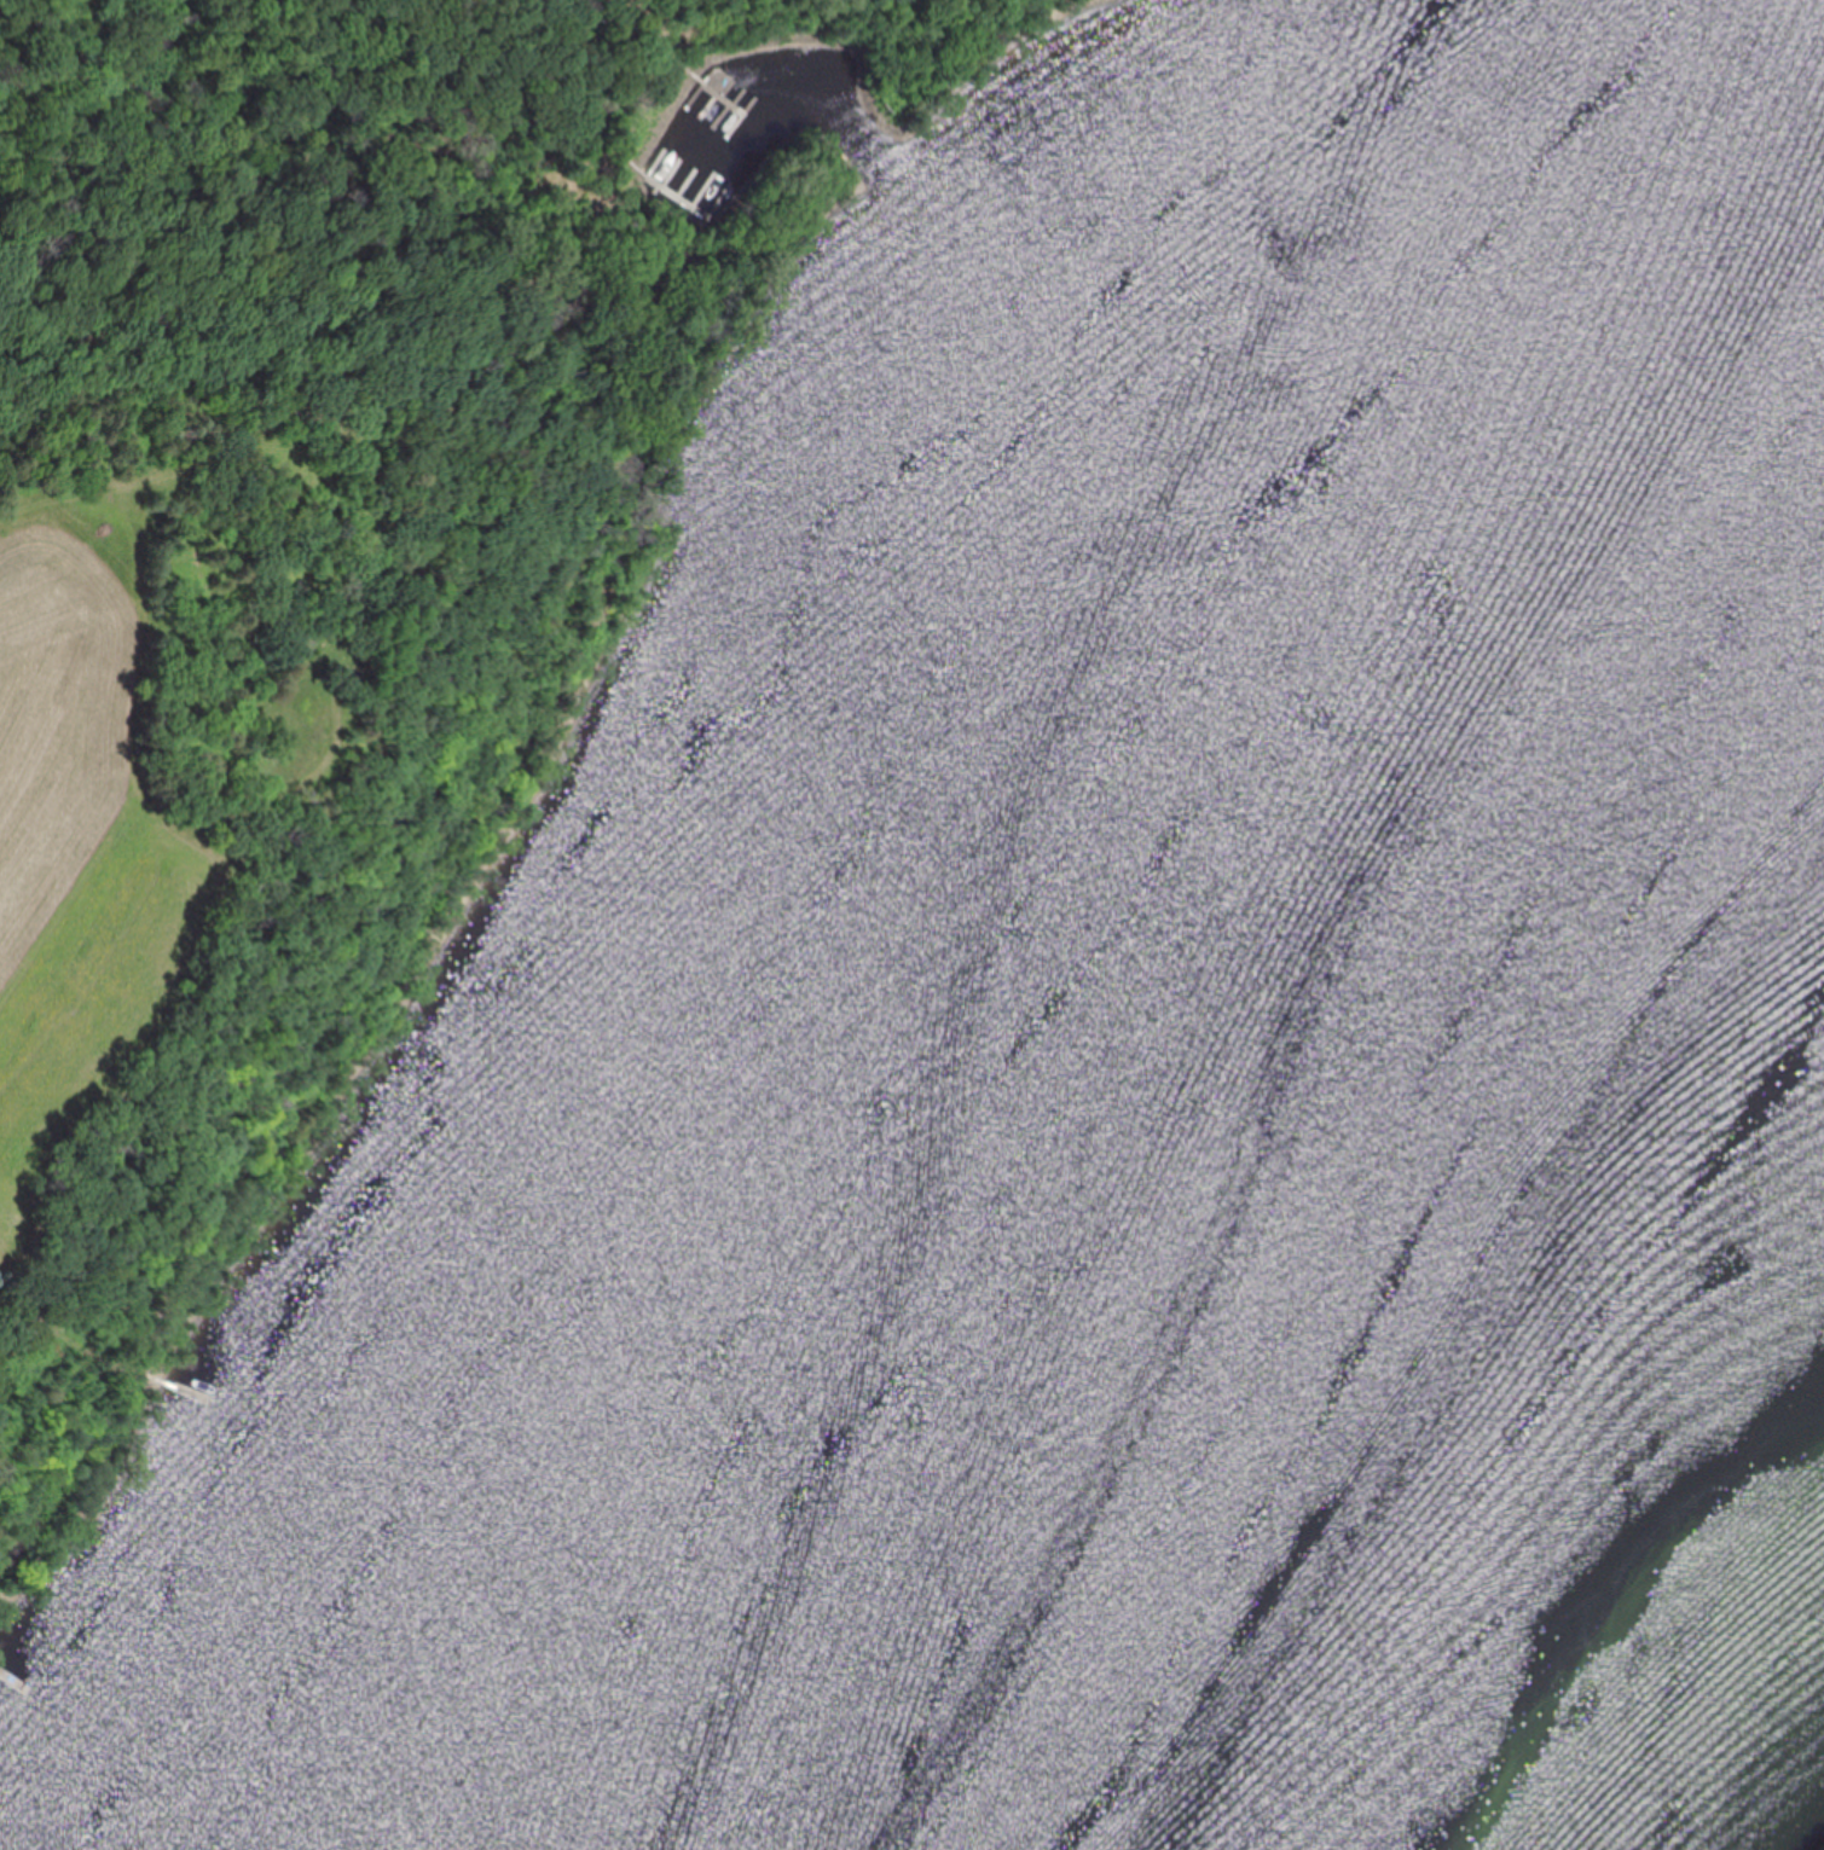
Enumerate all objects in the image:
building: (673, 175)
river: (1339, 1195)

